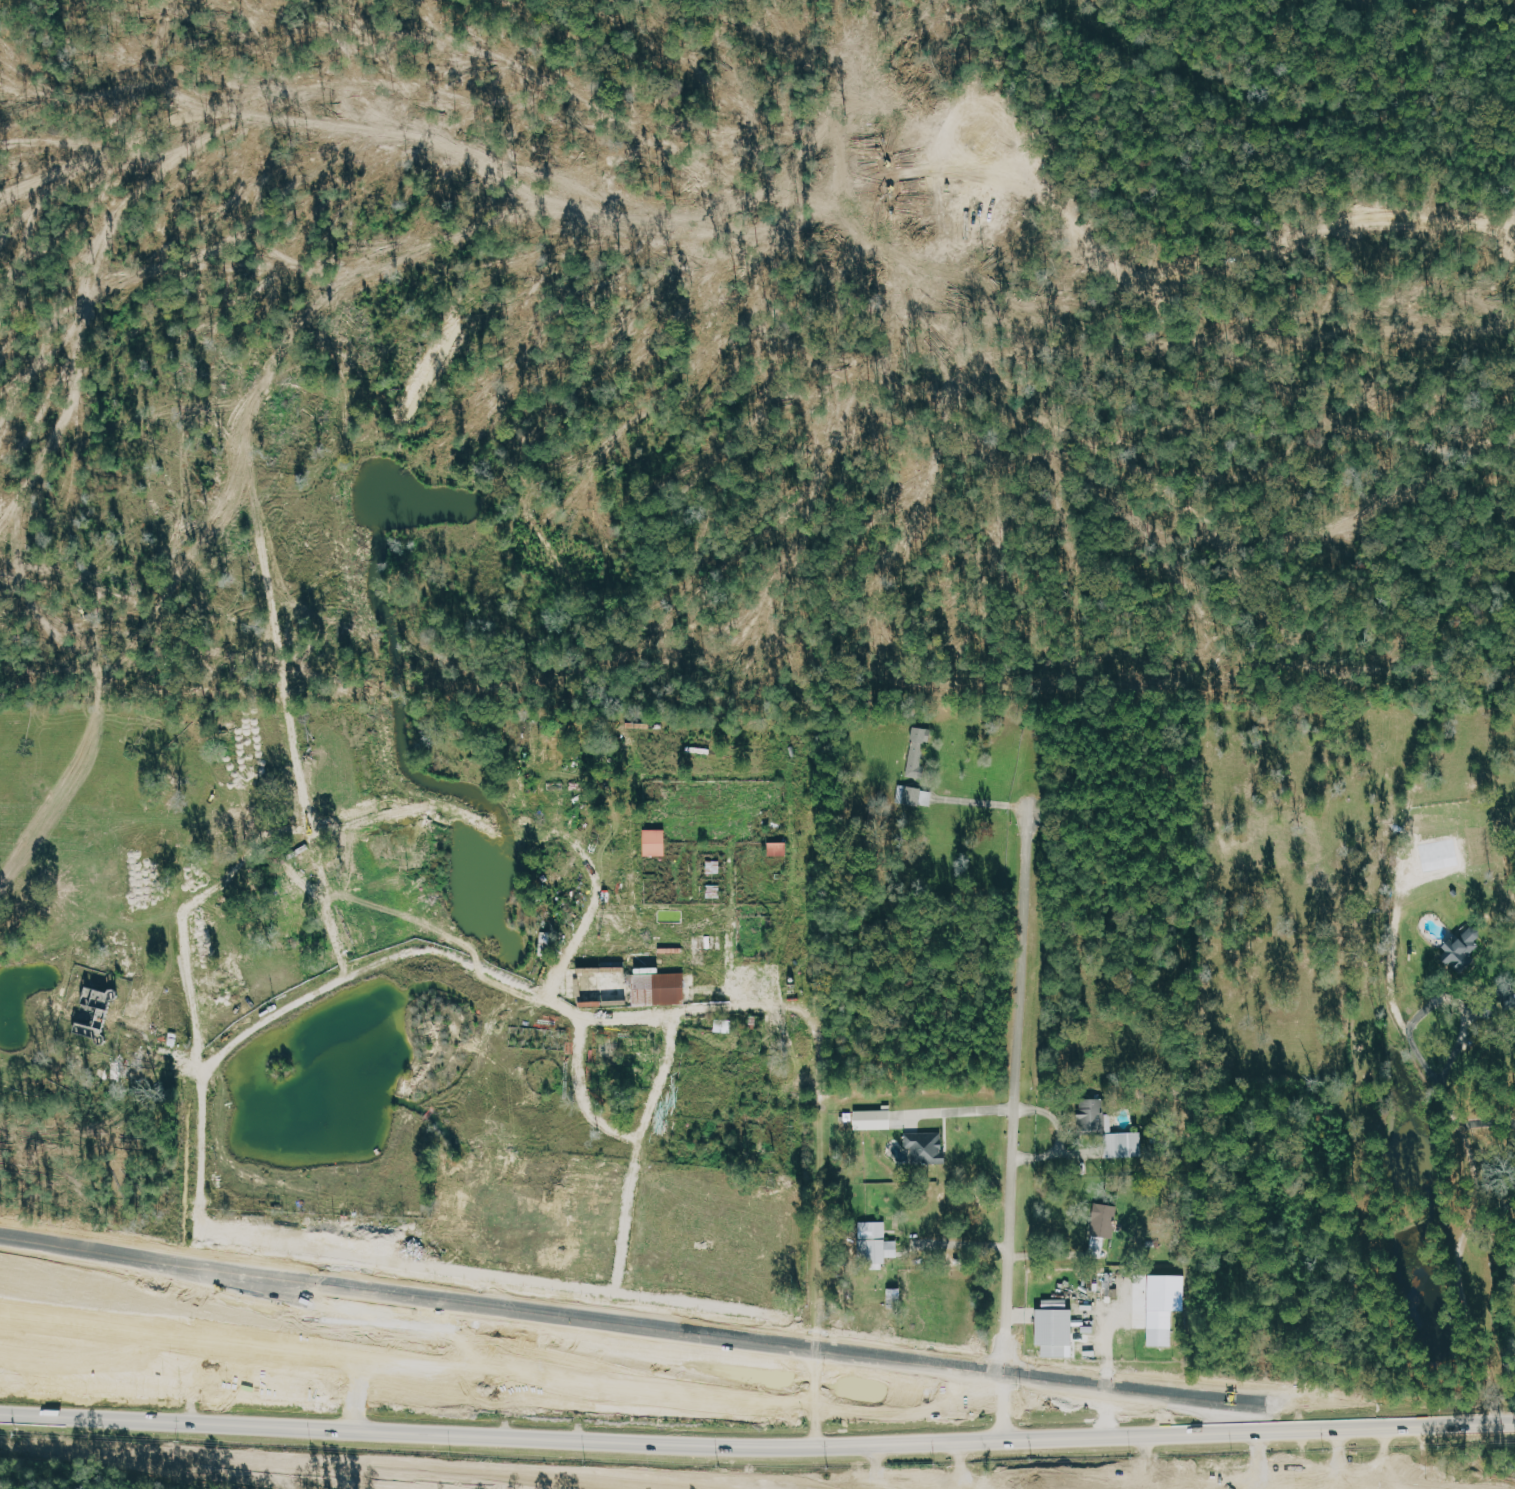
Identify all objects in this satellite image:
building: (918, 750)
building: (914, 795)
building: (656, 842)
building: (779, 848)
building: (1464, 949)
road: (481, 966)
building: (98, 1006)
building: (724, 1025)
building: (119, 1068)
road: (1014, 1088)
road: (956, 1109)
building: (874, 1118)
building: (1110, 1129)
building: (928, 1146)
road: (1472, 1198)
road: (1490, 1215)
building: (1103, 1227)
building: (877, 1243)
road: (964, 1243)
park: (1507, 1304)
road: (505, 1311)
building: (389, 1327)
building: (1161, 1327)
building: (1057, 1331)
road: (1105, 1345)
road: (575, 1366)
road: (1263, 1404)
road: (755, 1418)
road: (487, 1427)
road: (356, 1438)
road: (206, 1461)

